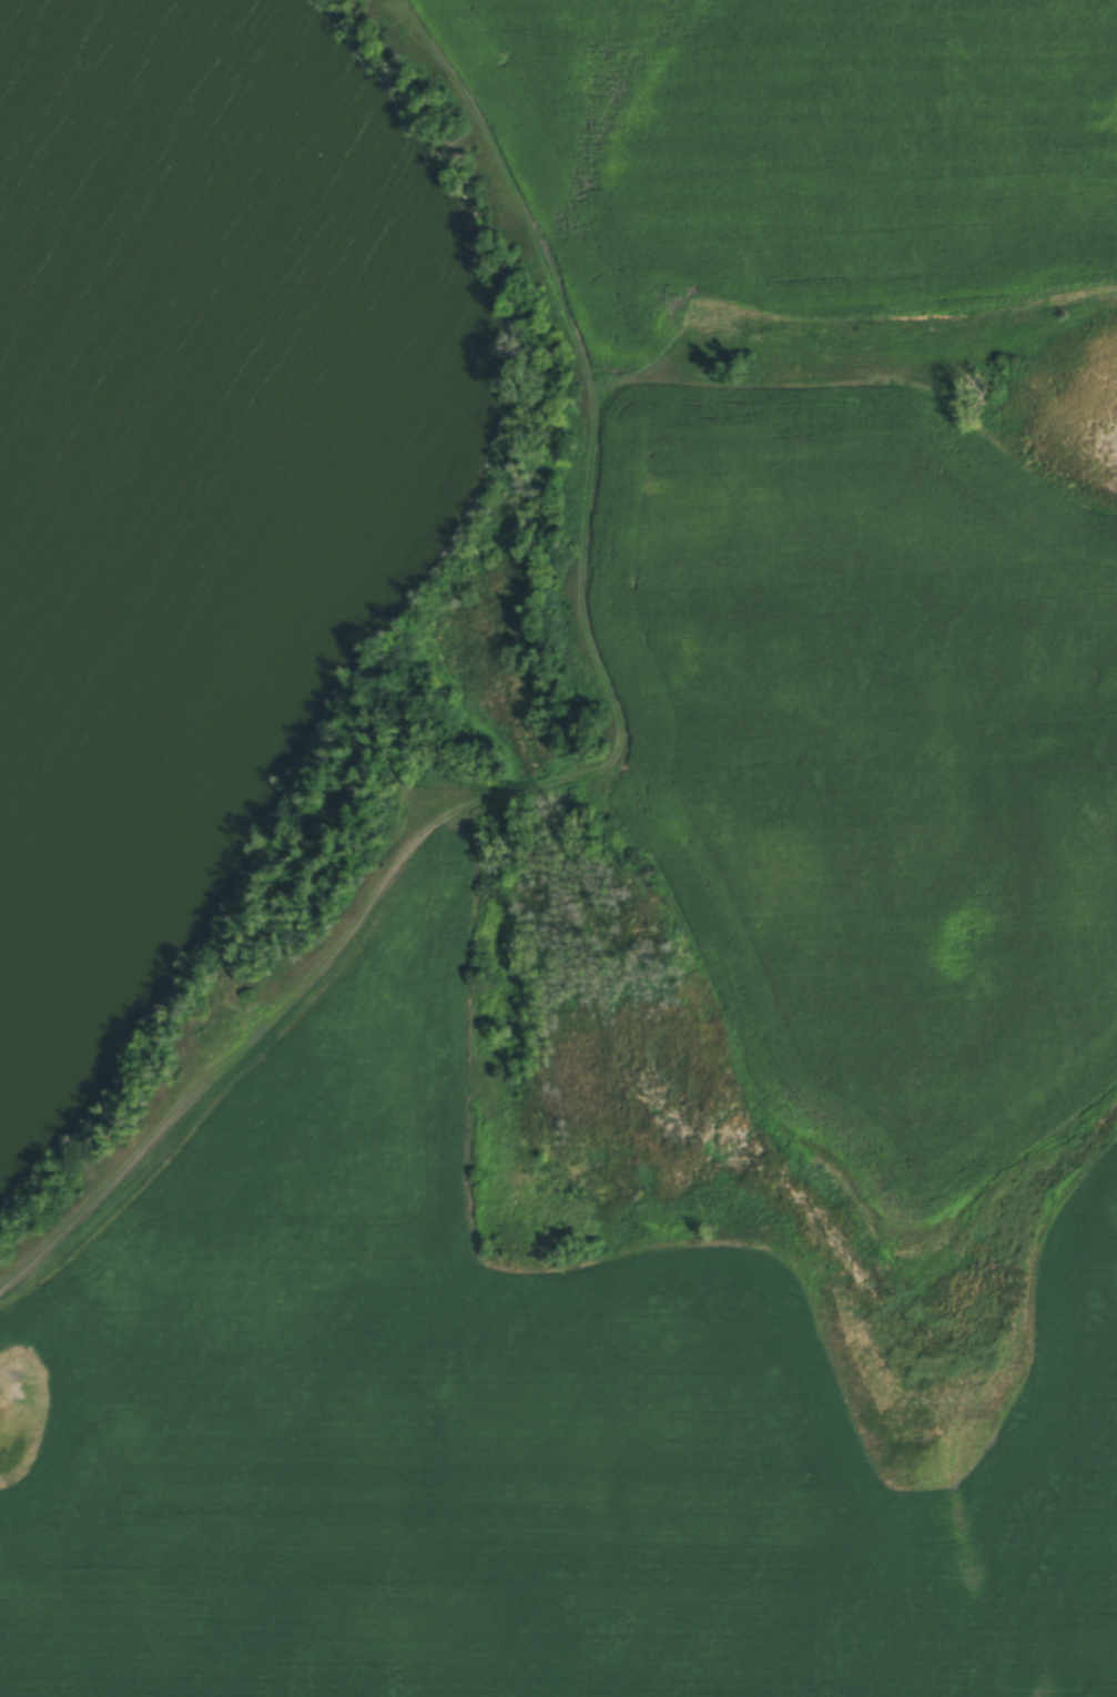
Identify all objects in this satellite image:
river: (242, 359)
road: (602, 760)

